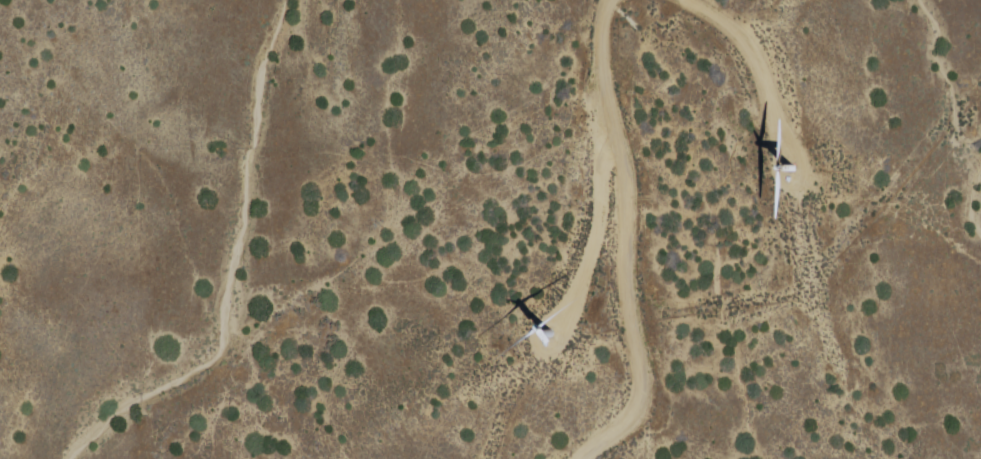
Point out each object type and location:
wind turbine: (790, 173)
road: (627, 237)
wind turbine: (546, 332)

